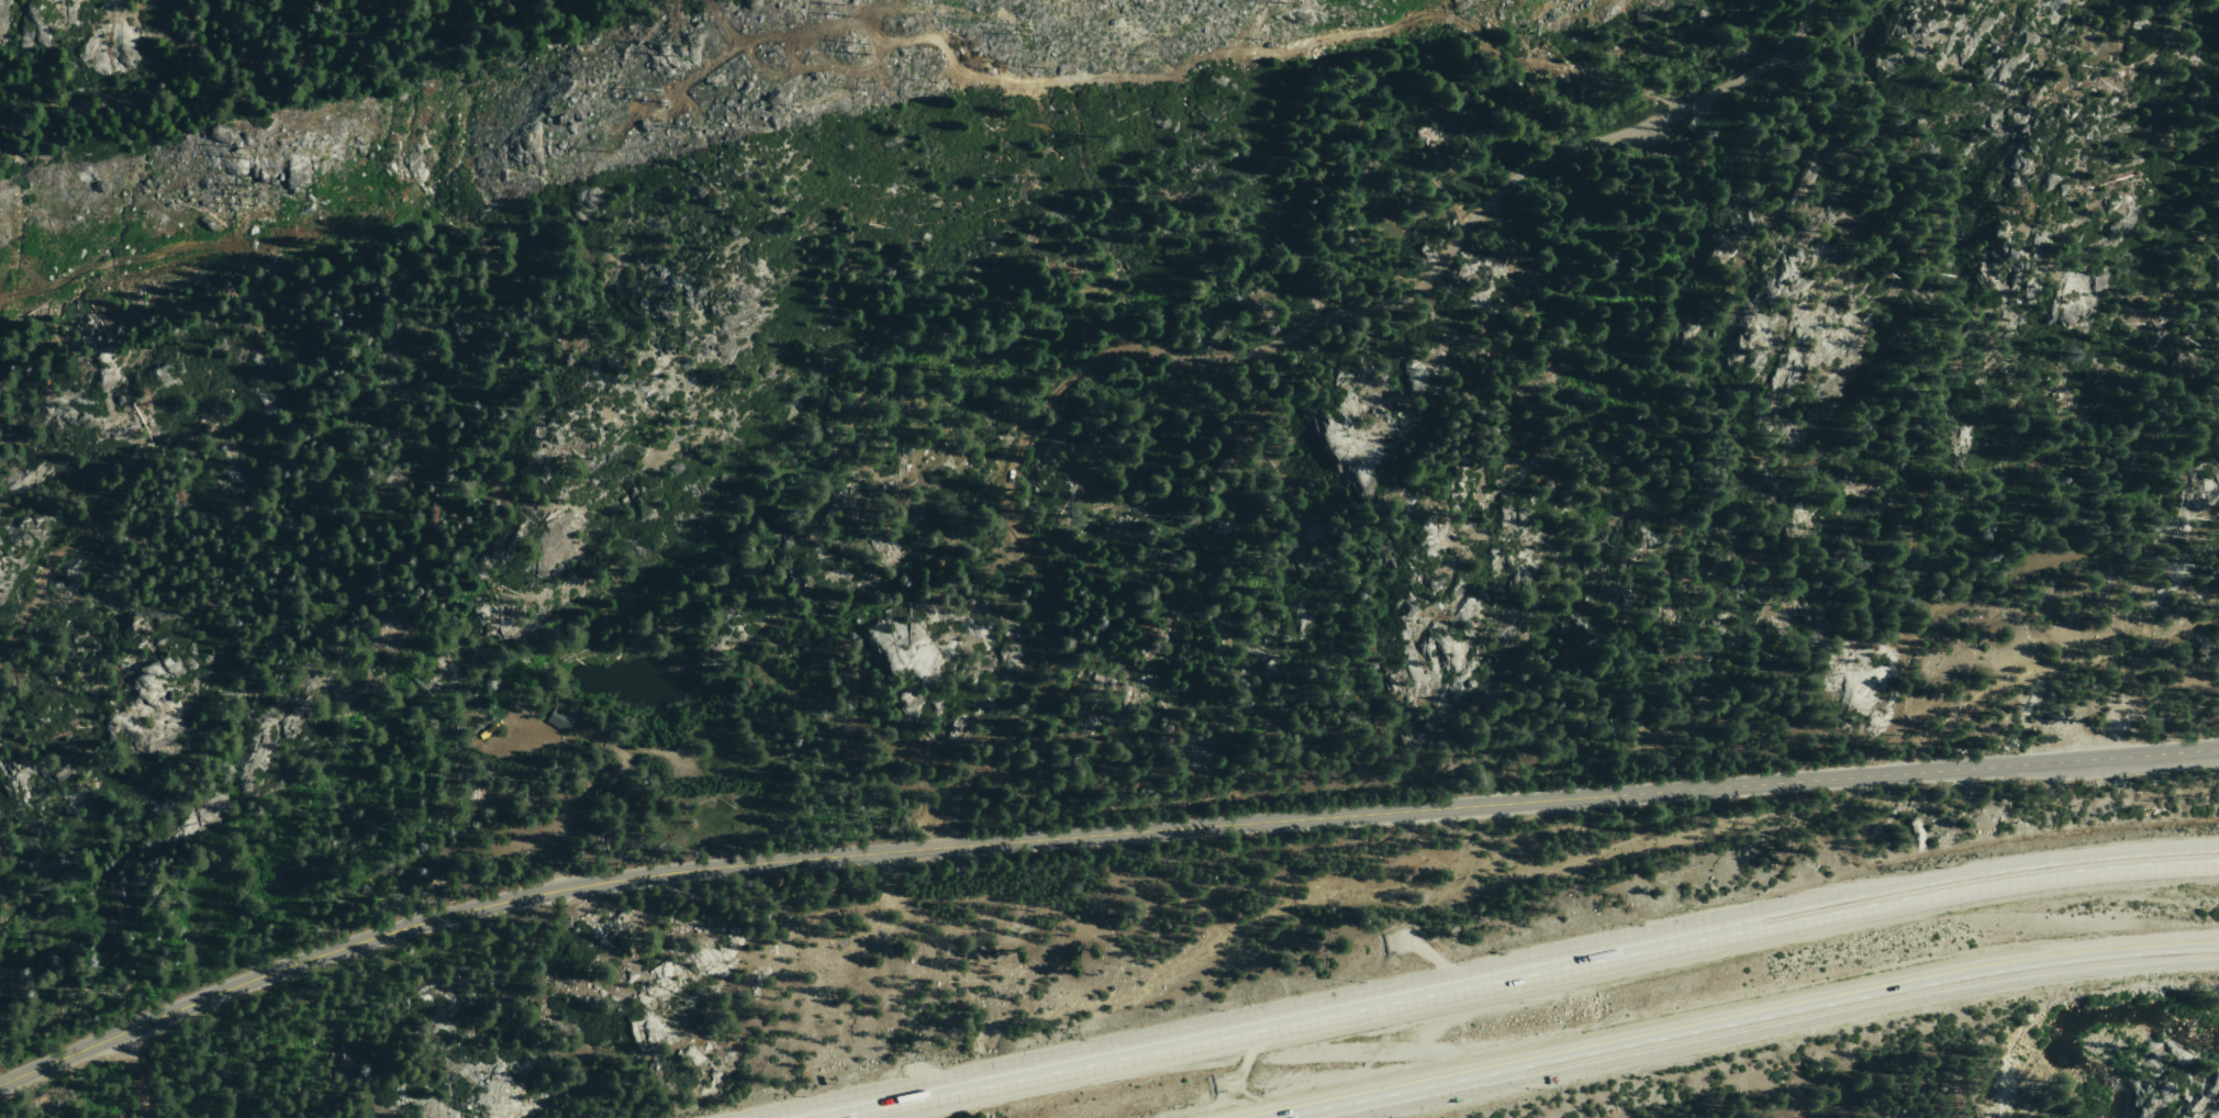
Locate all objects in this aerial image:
power tower: (847, 5)
power tower: (1034, 27)
power tower: (674, 48)
power tower: (862, 48)
power tower: (651, 97)
power tower: (250, 149)
power tower: (254, 193)
road: (1209, 328)
road: (1092, 837)
road: (1517, 974)
river: (2090, 1020)
road: (1763, 1027)

